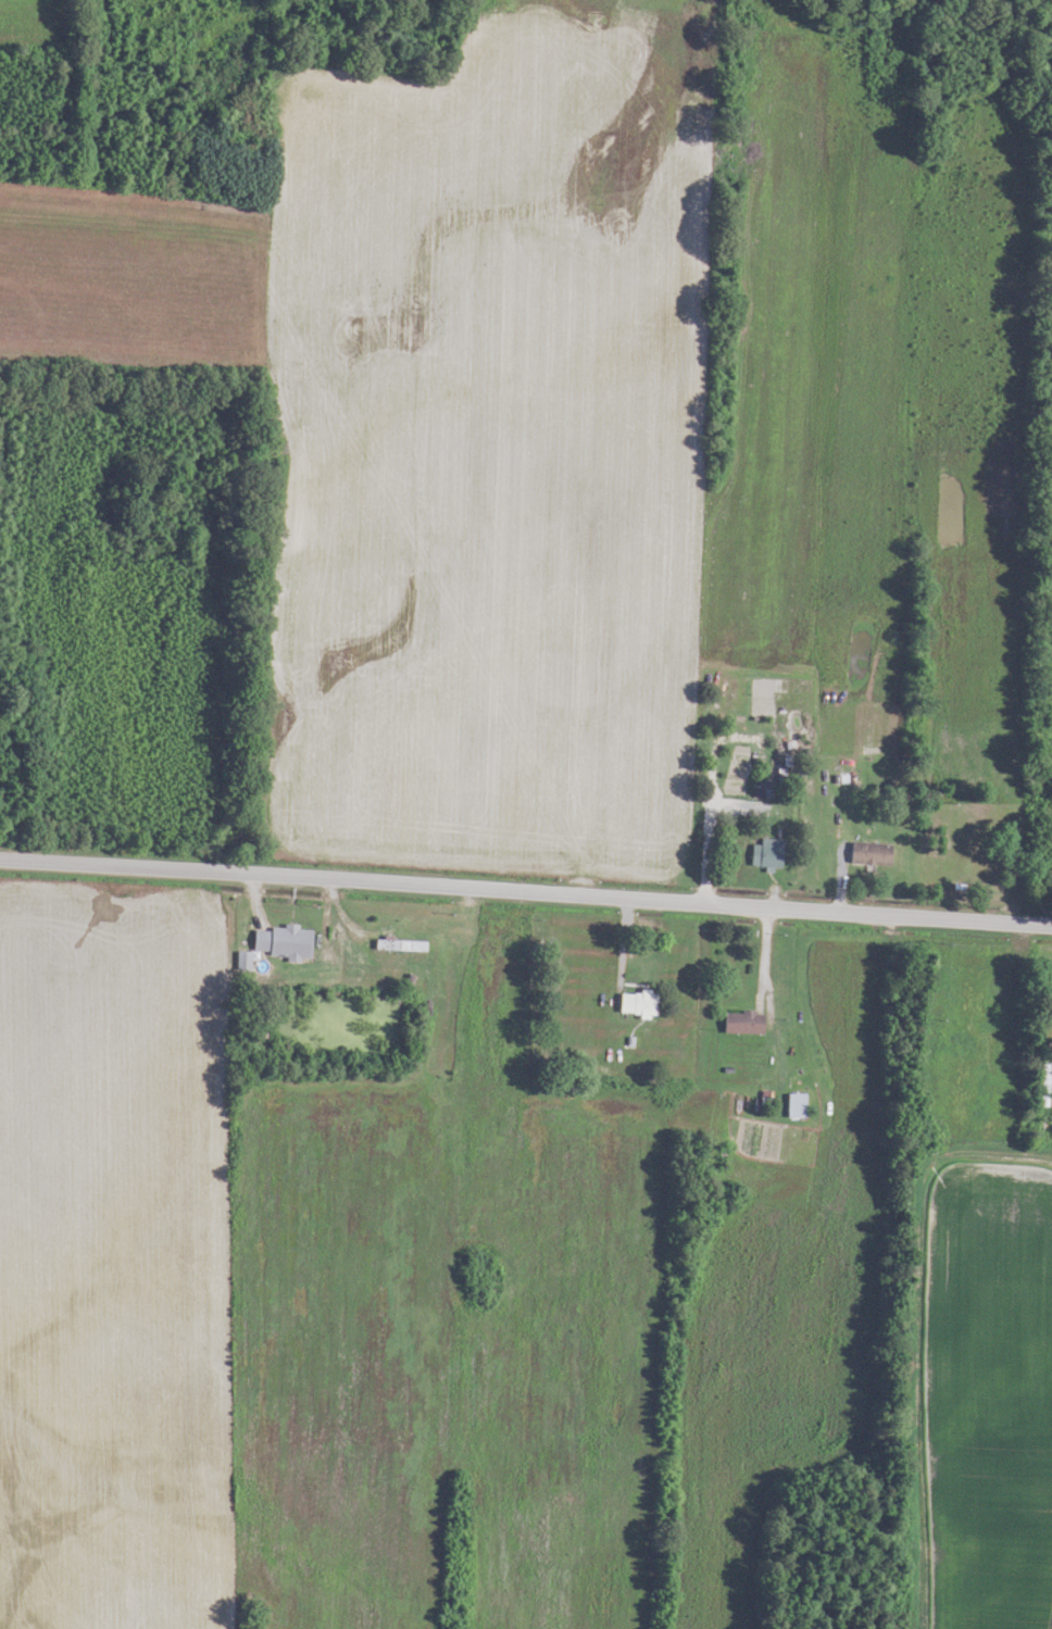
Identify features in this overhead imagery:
building: (218, 143)
road: (742, 806)
building: (763, 852)
building: (866, 853)
road: (526, 893)
building: (278, 942)
building: (633, 1002)
building: (737, 1022)
building: (1039, 1091)
building: (791, 1105)

